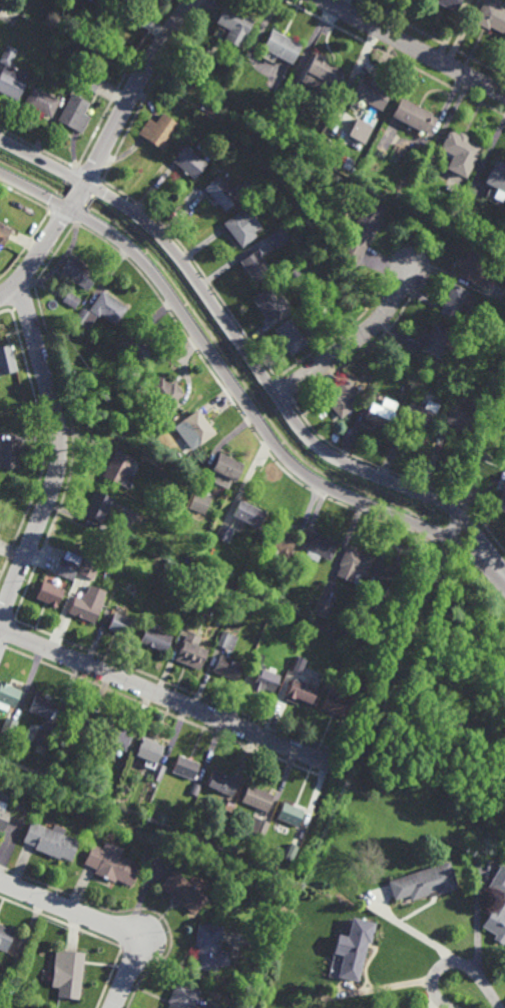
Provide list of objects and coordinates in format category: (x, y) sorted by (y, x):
building: (103, 3)
building: (449, 4)
building: (491, 16)
building: (235, 25)
building: (283, 47)
road: (414, 47)
building: (9, 55)
building: (326, 72)
building: (11, 82)
building: (91, 83)
building: (32, 84)
building: (221, 88)
building: (371, 94)
building: (41, 102)
building: (74, 114)
building: (414, 117)
building: (158, 131)
building: (359, 131)
road: (102, 153)
building: (460, 153)
building: (189, 163)
building: (295, 177)
building: (497, 181)
building: (252, 183)
building: (222, 193)
building: (243, 227)
building: (361, 234)
building: (4, 235)
building: (279, 238)
road: (163, 240)
building: (256, 266)
building: (78, 272)
building: (295, 272)
building: (474, 272)
building: (338, 285)
building: (503, 298)
building: (71, 300)
building: (456, 304)
building: (270, 305)
building: (108, 308)
building: (86, 318)
building: (289, 335)
building: (435, 339)
road: (352, 341)
building: (138, 346)
building: (7, 358)
building: (130, 390)
building: (164, 390)
building: (340, 396)
road: (238, 397)
building: (380, 411)
building: (418, 415)
building: (462, 415)
building: (163, 421)
building: (194, 429)
building: (477, 446)
building: (10, 453)
road: (60, 456)
building: (119, 468)
building: (224, 470)
road: (391, 482)
building: (501, 499)
building: (199, 503)
building: (98, 504)
building: (247, 515)
building: (171, 521)
building: (224, 533)
building: (277, 543)
building: (318, 546)
building: (189, 556)
building: (296, 560)
building: (353, 565)
building: (88, 567)
building: (65, 568)
building: (393, 570)
building: (49, 591)
building: (281, 599)
building: (84, 606)
building: (322, 609)
building: (120, 624)
building: (360, 625)
building: (156, 639)
building: (226, 640)
building: (191, 652)
building: (298, 665)
building: (227, 668)
building: (262, 677)
road: (503, 677)
road: (469, 686)
road: (501, 691)
building: (299, 692)
building: (9, 695)
road: (167, 696)
park: (437, 700)
building: (333, 702)
building: (40, 707)
building: (76, 725)
building: (9, 727)
building: (115, 736)
building: (42, 738)
road: (386, 739)
building: (148, 751)
building: (185, 767)
building: (158, 772)
building: (222, 783)
building: (194, 787)
building: (257, 798)
building: (290, 813)
building: (4, 817)
building: (257, 826)
building: (50, 841)
building: (295, 842)
building: (111, 864)
building: (424, 884)
building: (183, 892)
building: (498, 907)
road: (99, 921)
building: (5, 938)
building: (208, 949)
building: (354, 949)
road: (455, 963)
building: (67, 973)
building: (182, 996)

